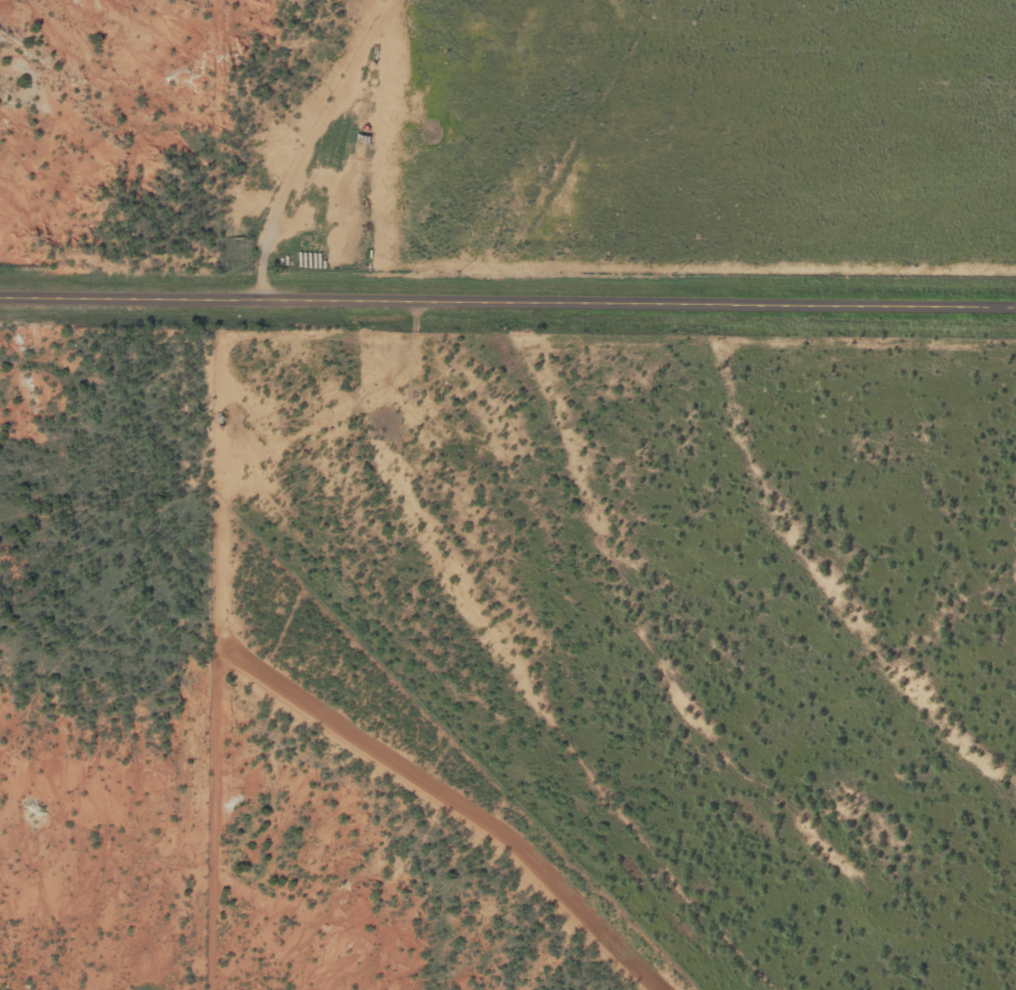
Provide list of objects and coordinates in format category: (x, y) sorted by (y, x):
road: (508, 301)

